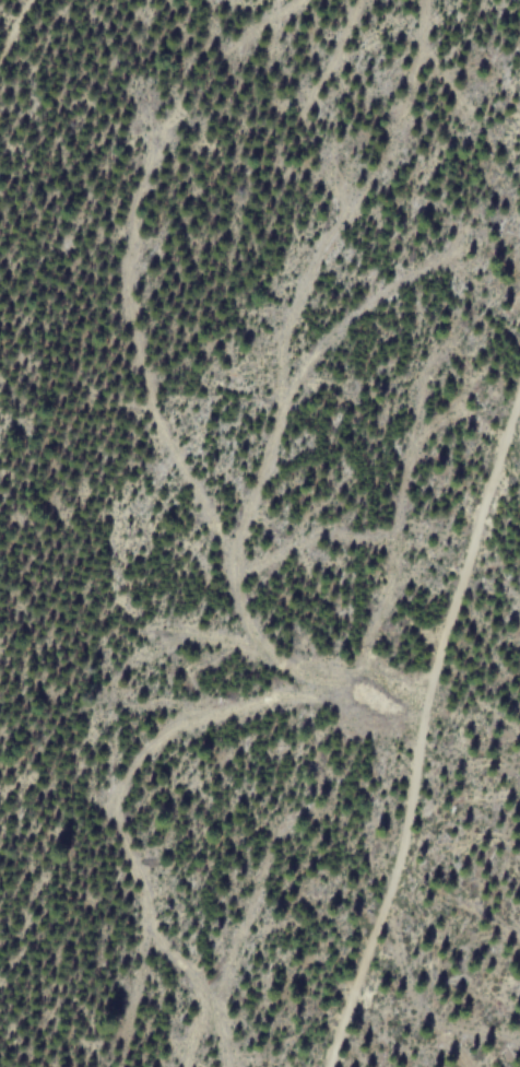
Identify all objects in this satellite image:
road: (13, 30)
road: (417, 725)

